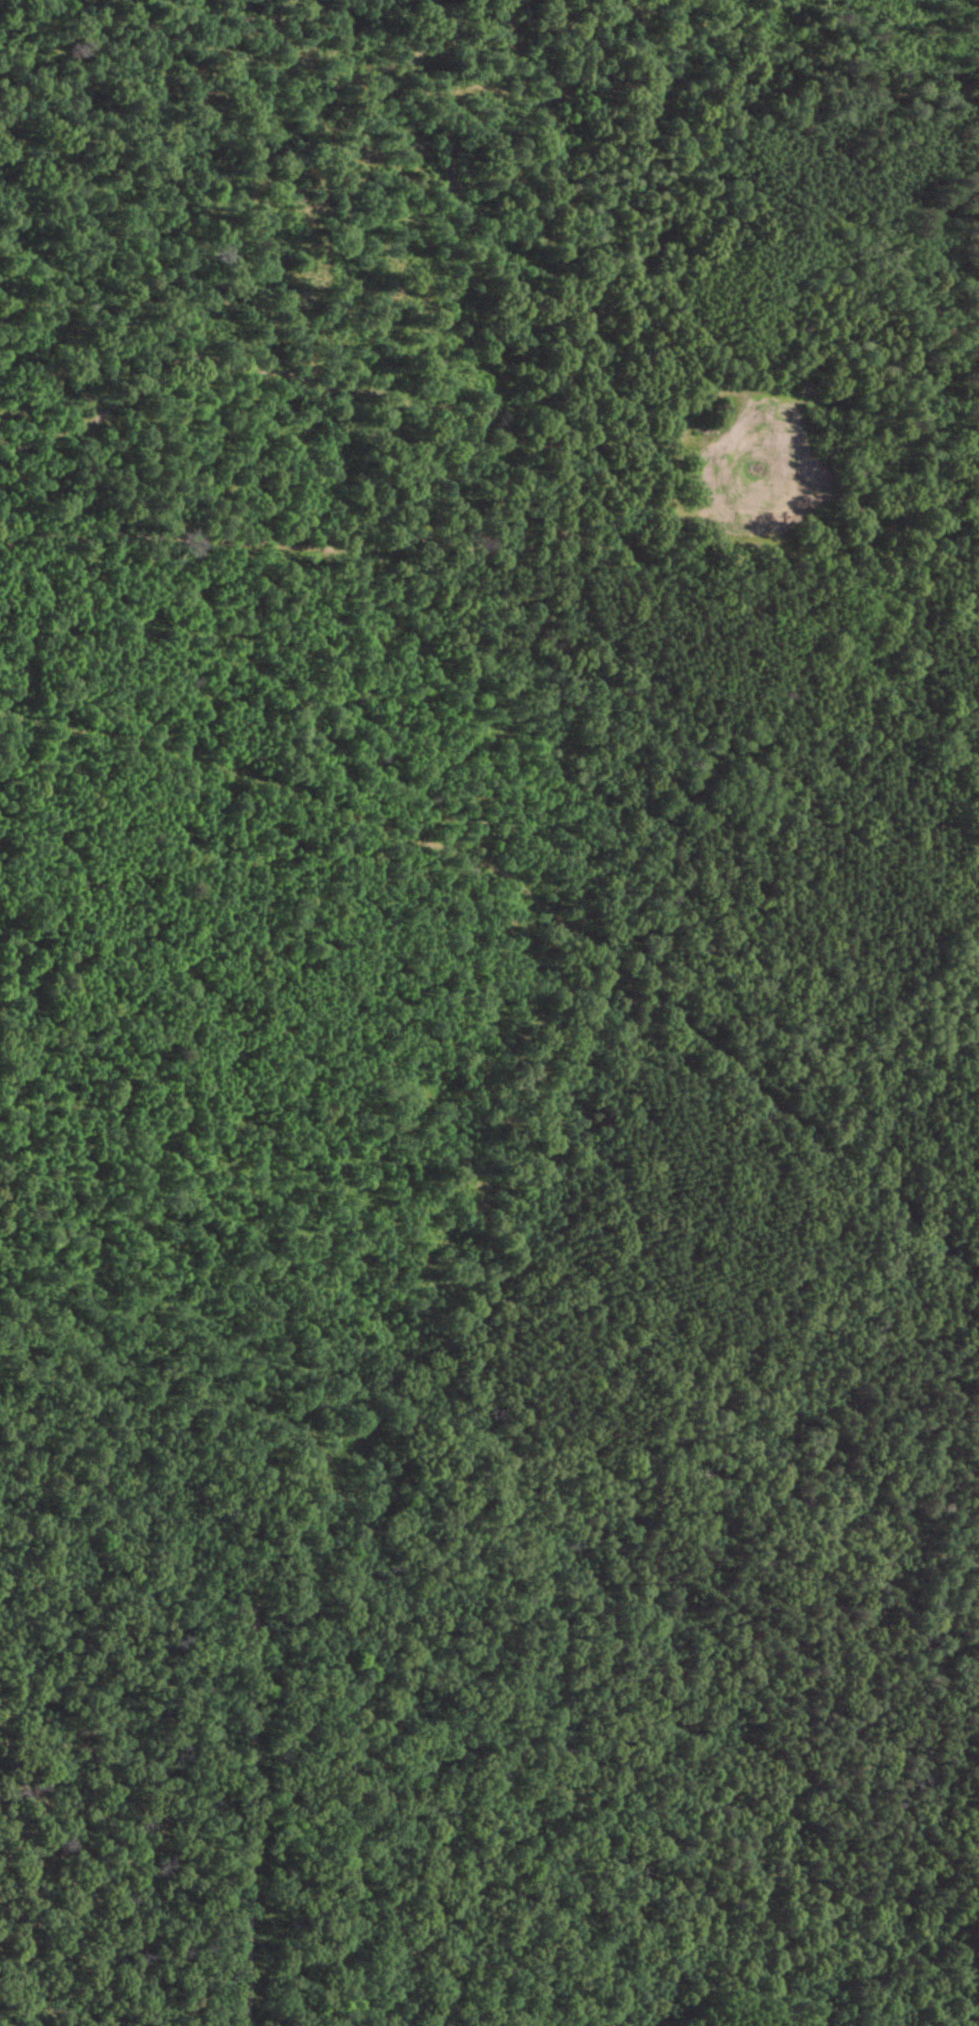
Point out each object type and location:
road: (256, 789)
road: (747, 1073)

